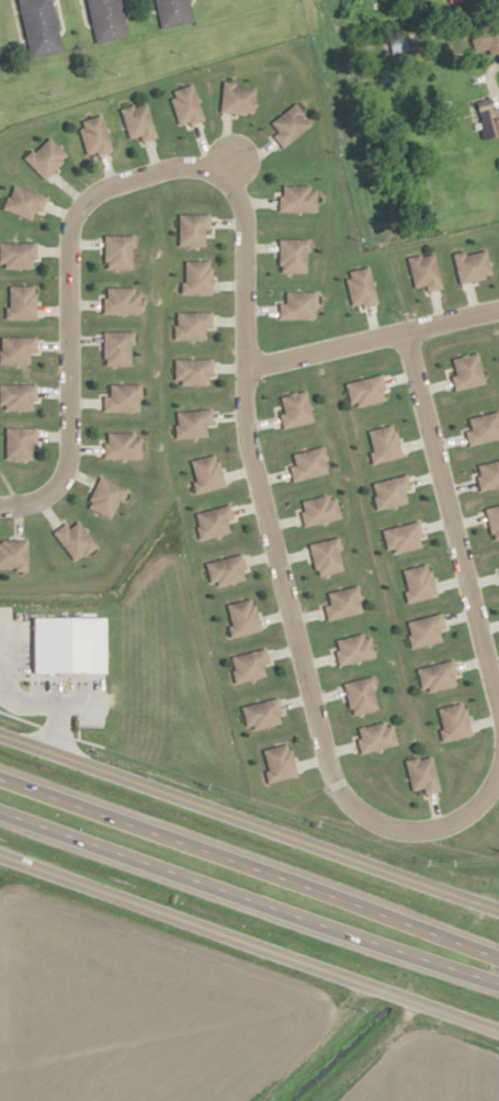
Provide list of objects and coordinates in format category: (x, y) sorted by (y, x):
building: (173, 12)
building: (106, 20)
building: (39, 27)
building: (481, 40)
building: (237, 99)
building: (185, 106)
building: (490, 121)
building: (138, 122)
building: (288, 124)
building: (93, 137)
building: (498, 154)
building: (44, 157)
building: (298, 198)
building: (24, 202)
road: (79, 204)
building: (195, 229)
building: (120, 251)
building: (18, 254)
building: (295, 256)
building: (472, 265)
building: (424, 272)
building: (196, 278)
building: (360, 289)
building: (20, 300)
building: (121, 300)
building: (297, 304)
road: (449, 319)
building: (194, 326)
building: (120, 348)
building: (18, 349)
building: (465, 371)
building: (194, 372)
building: (366, 391)
building: (18, 396)
building: (122, 396)
building: (294, 408)
building: (194, 423)
building: (483, 427)
building: (22, 442)
building: (383, 443)
building: (123, 445)
road: (433, 453)
building: (308, 464)
building: (206, 473)
building: (488, 475)
building: (392, 492)
building: (106, 498)
building: (320, 507)
building: (492, 520)
building: (214, 521)
building: (404, 537)
building: (72, 539)
building: (13, 555)
building: (327, 557)
building: (227, 571)
building: (419, 584)
building: (342, 603)
building: (242, 617)
building: (427, 630)
building: (353, 649)
crop: (123, 663)
building: (251, 665)
building: (439, 676)
road: (304, 684)
building: (361, 695)
building: (263, 714)
building: (453, 720)
building: (377, 737)
building: (279, 763)
building: (423, 775)
road: (249, 824)
road: (249, 865)
road: (249, 905)
road: (249, 943)

